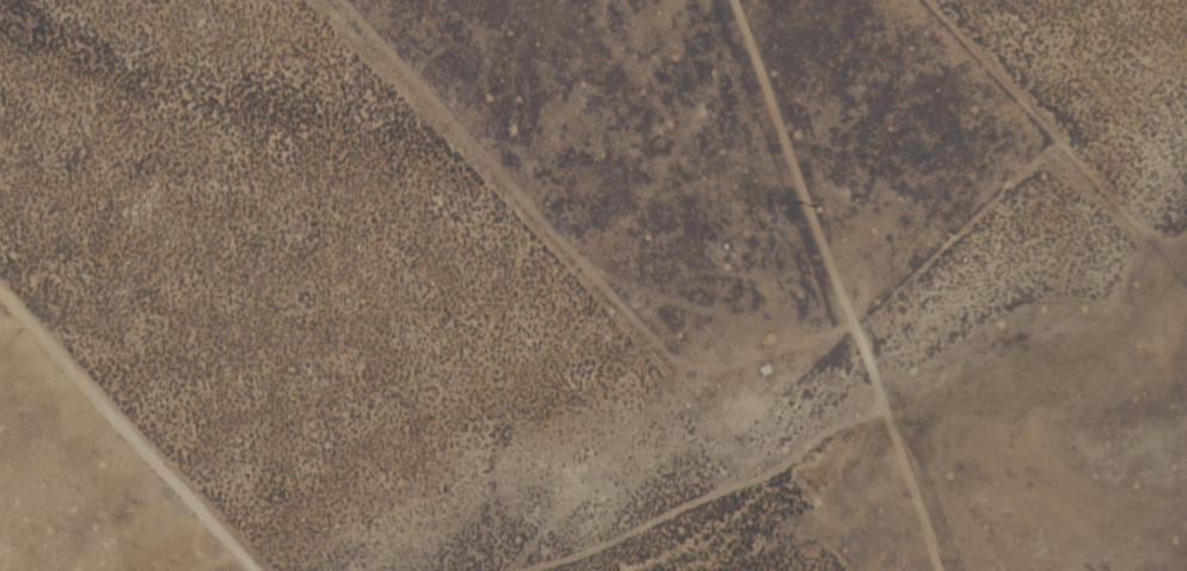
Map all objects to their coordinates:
road: (130, 430)

